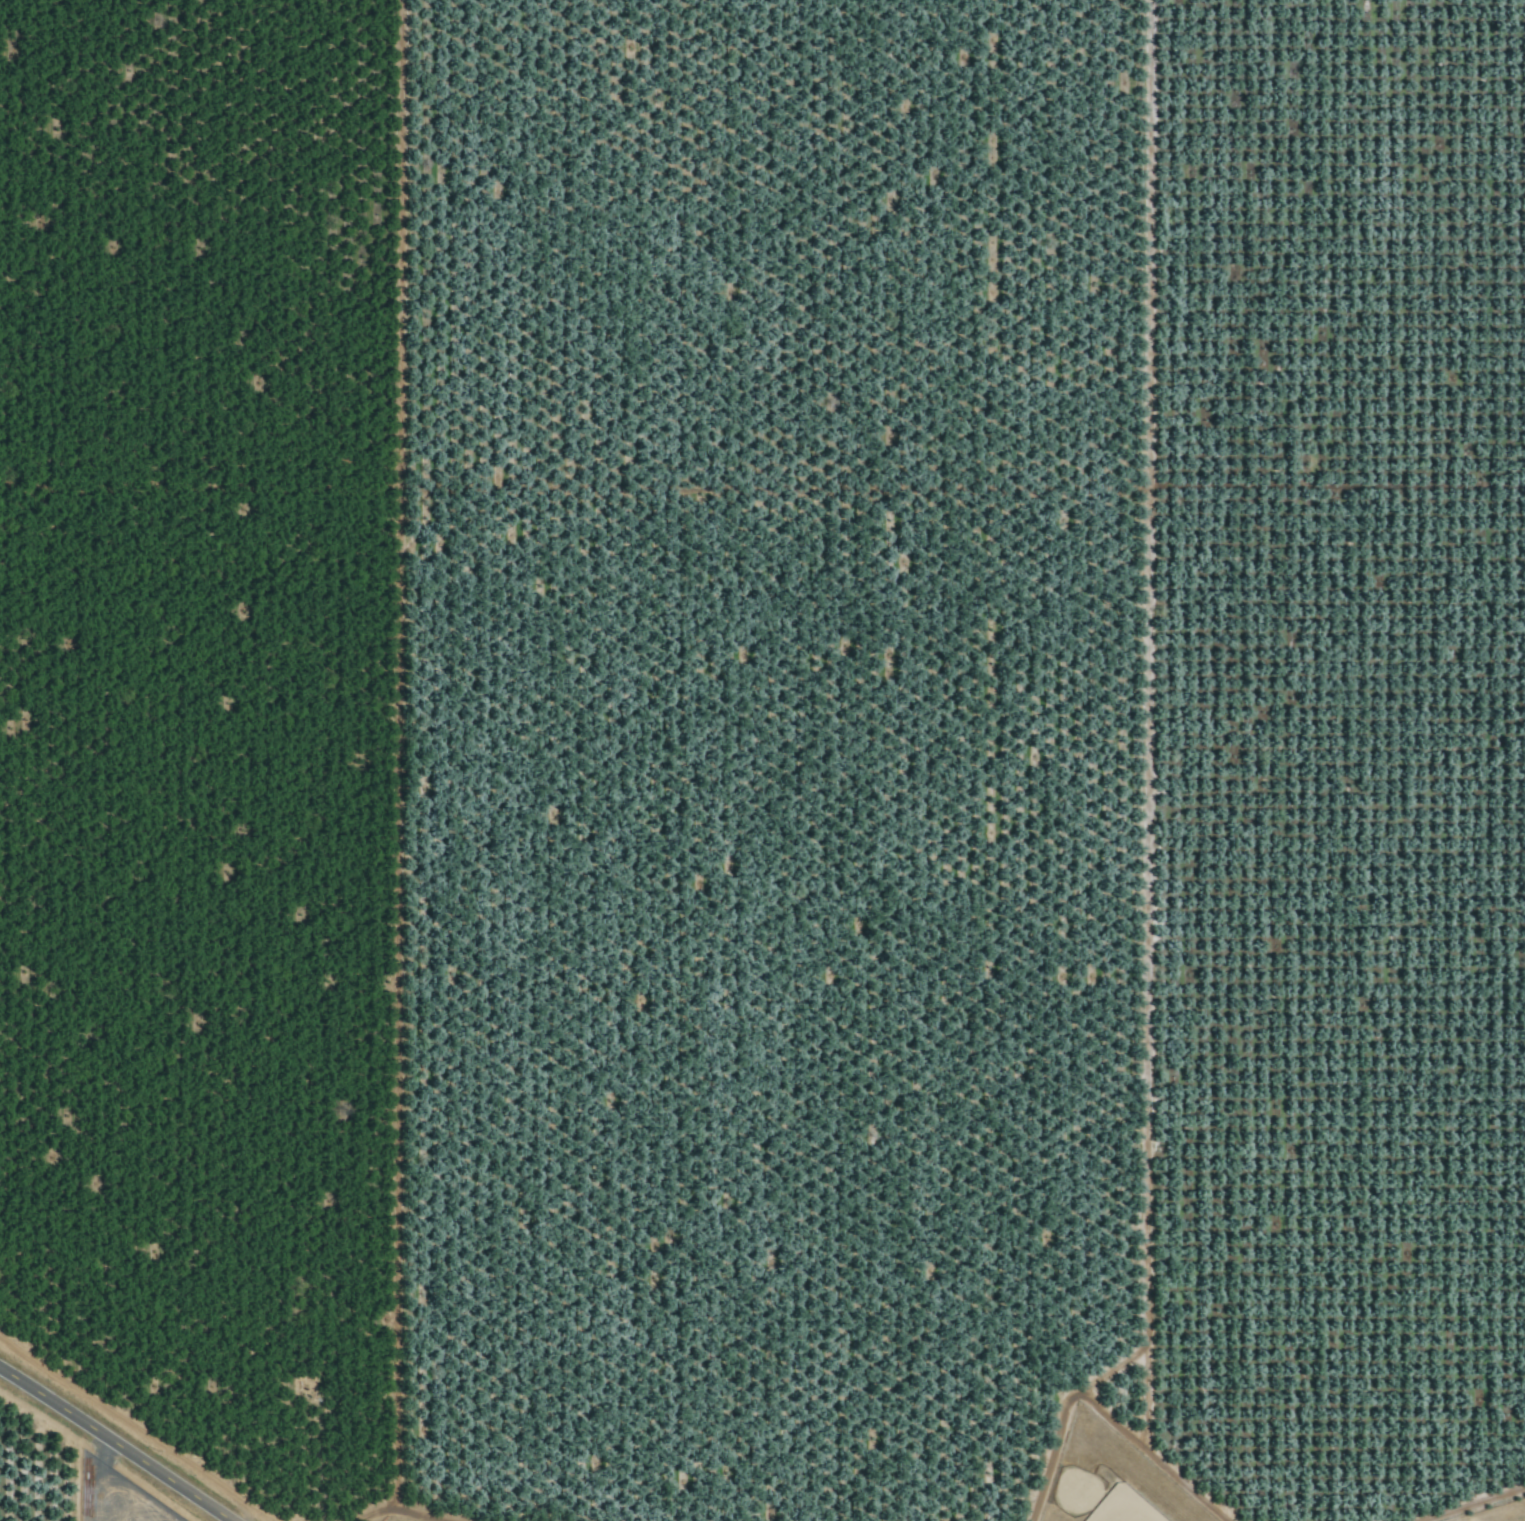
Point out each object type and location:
road: (115, 1444)
road: (100, 1484)

